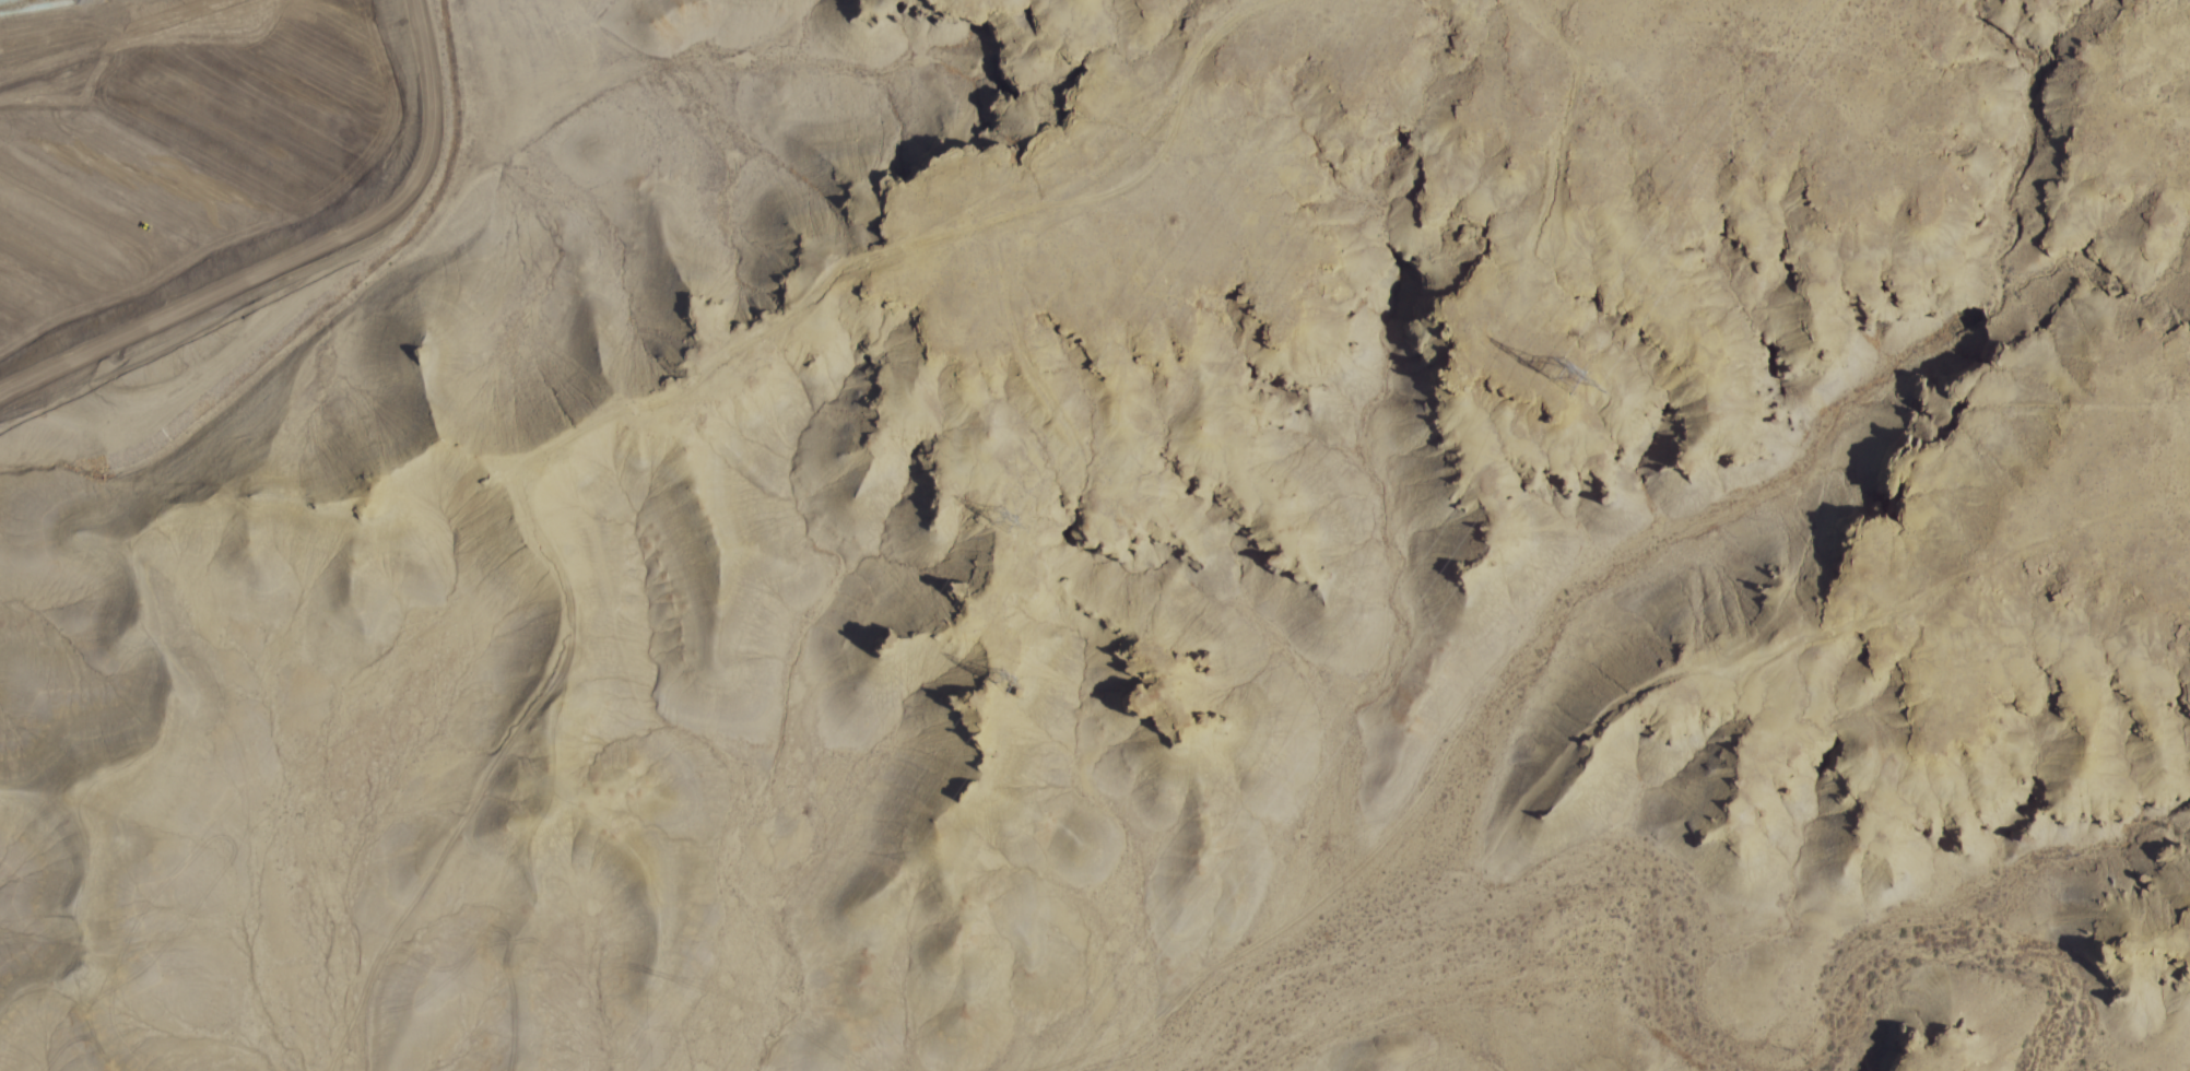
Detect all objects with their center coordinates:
power tower: (1563, 364)
power tower: (1011, 517)
power tower: (1017, 683)

